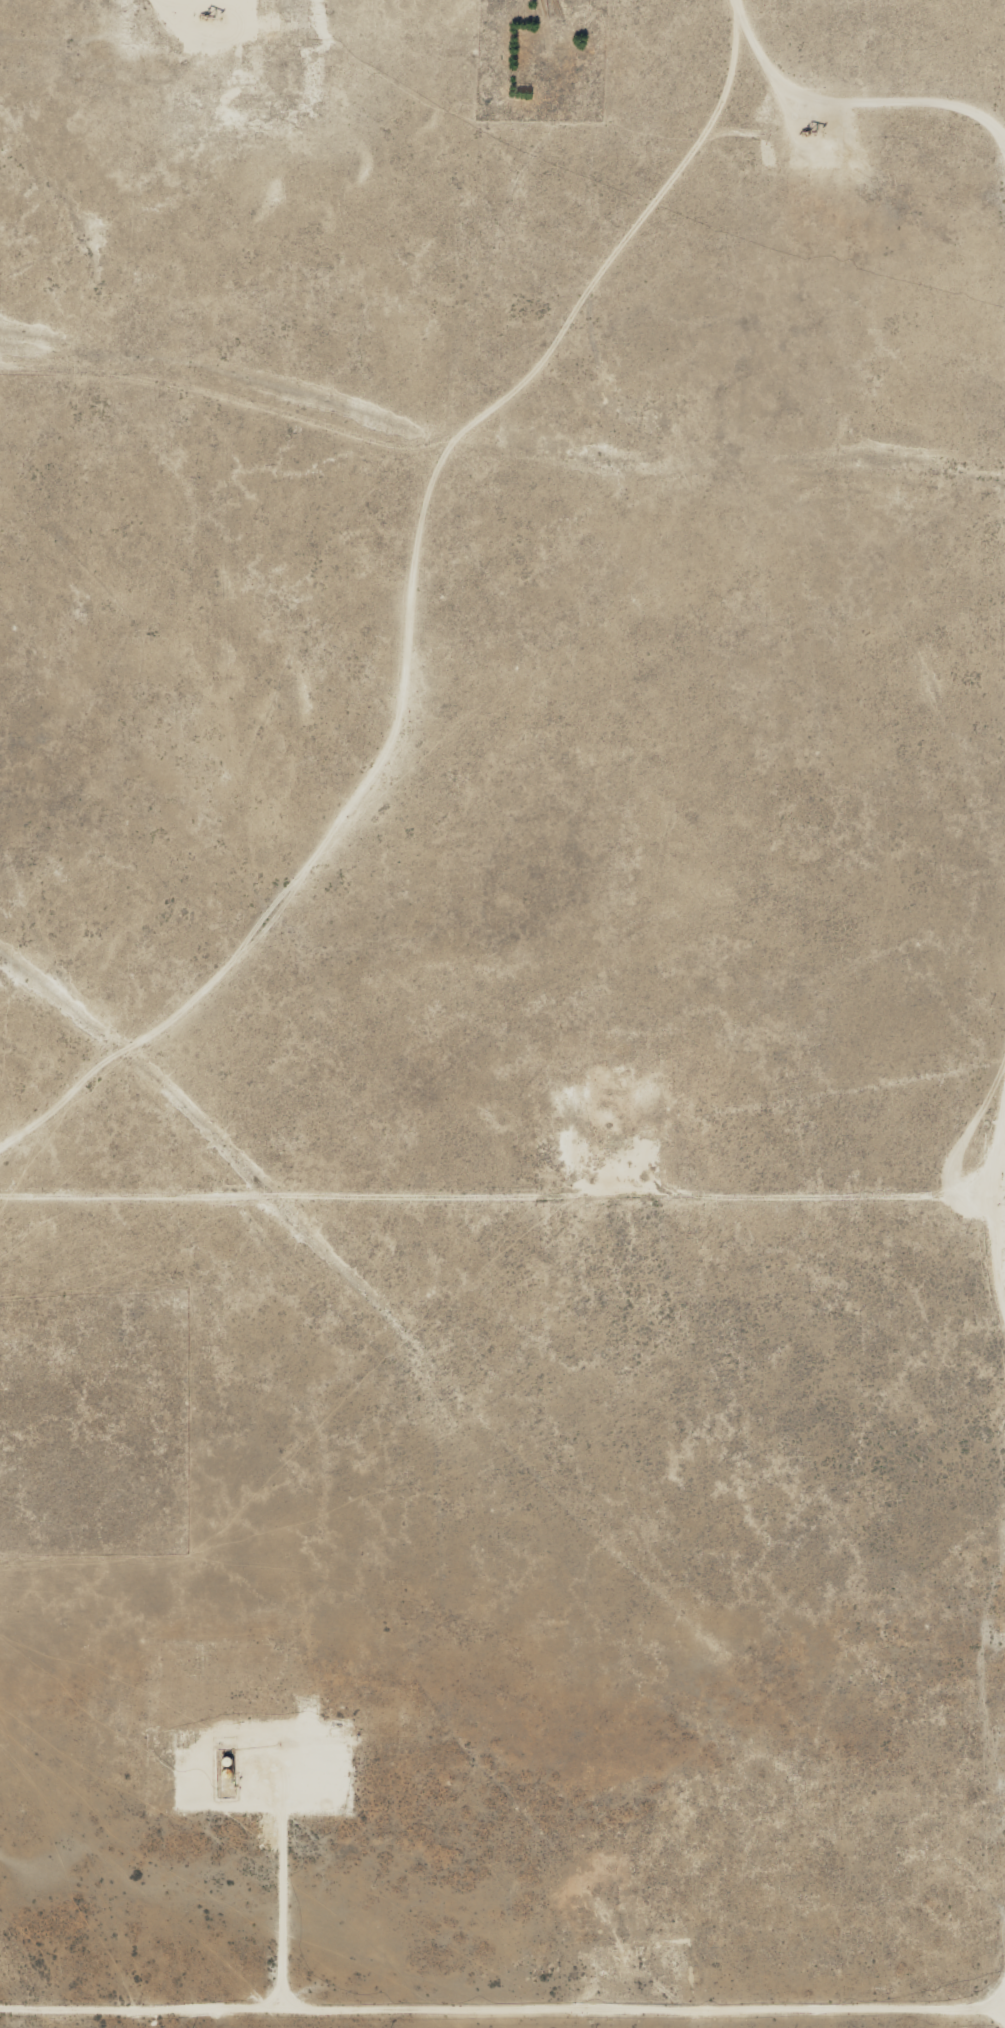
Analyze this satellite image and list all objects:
road: (987, 264)
road: (203, 399)
road: (385, 602)
road: (5, 2015)

